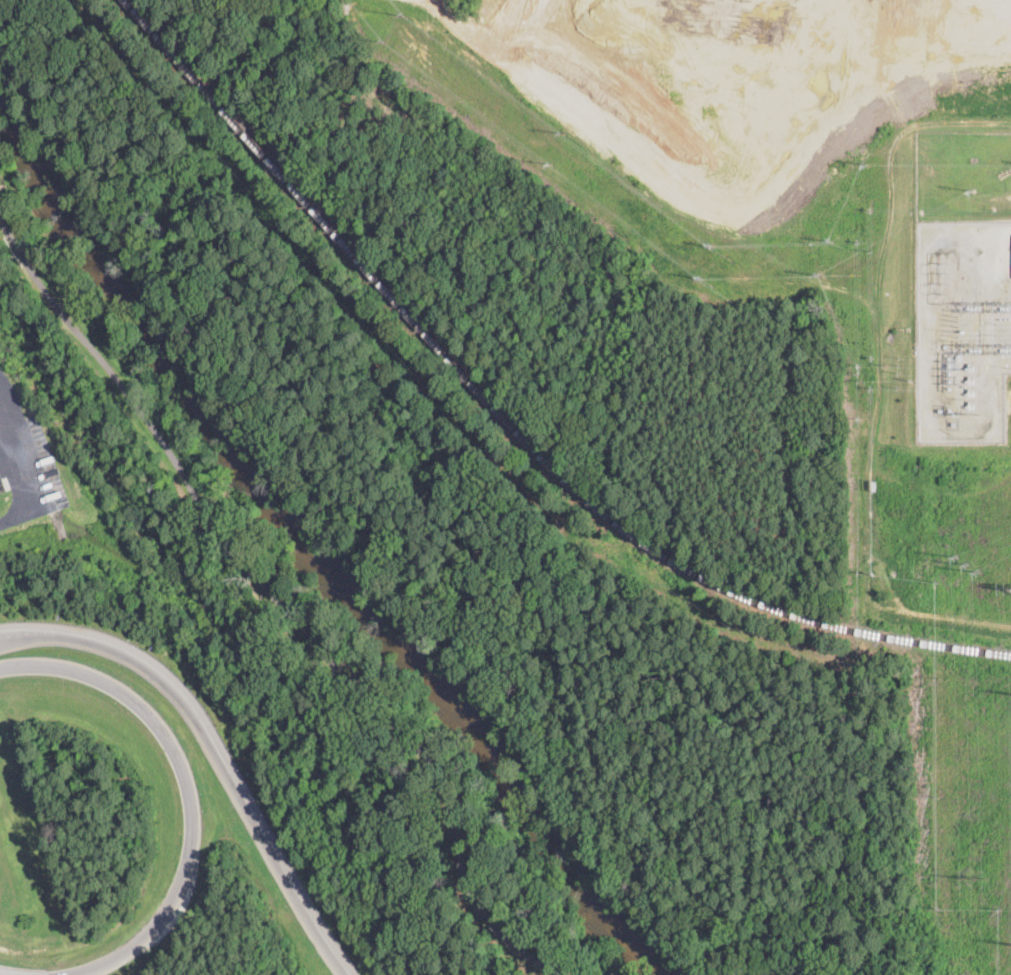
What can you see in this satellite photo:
landfill: (627, 203)
power substation: (962, 328)
power tower: (1005, 349)
park: (307, 429)
road: (20, 442)
power tower: (966, 563)
road: (275, 601)
road: (211, 750)
road: (187, 789)
park: (507, 859)
power tower: (975, 876)

